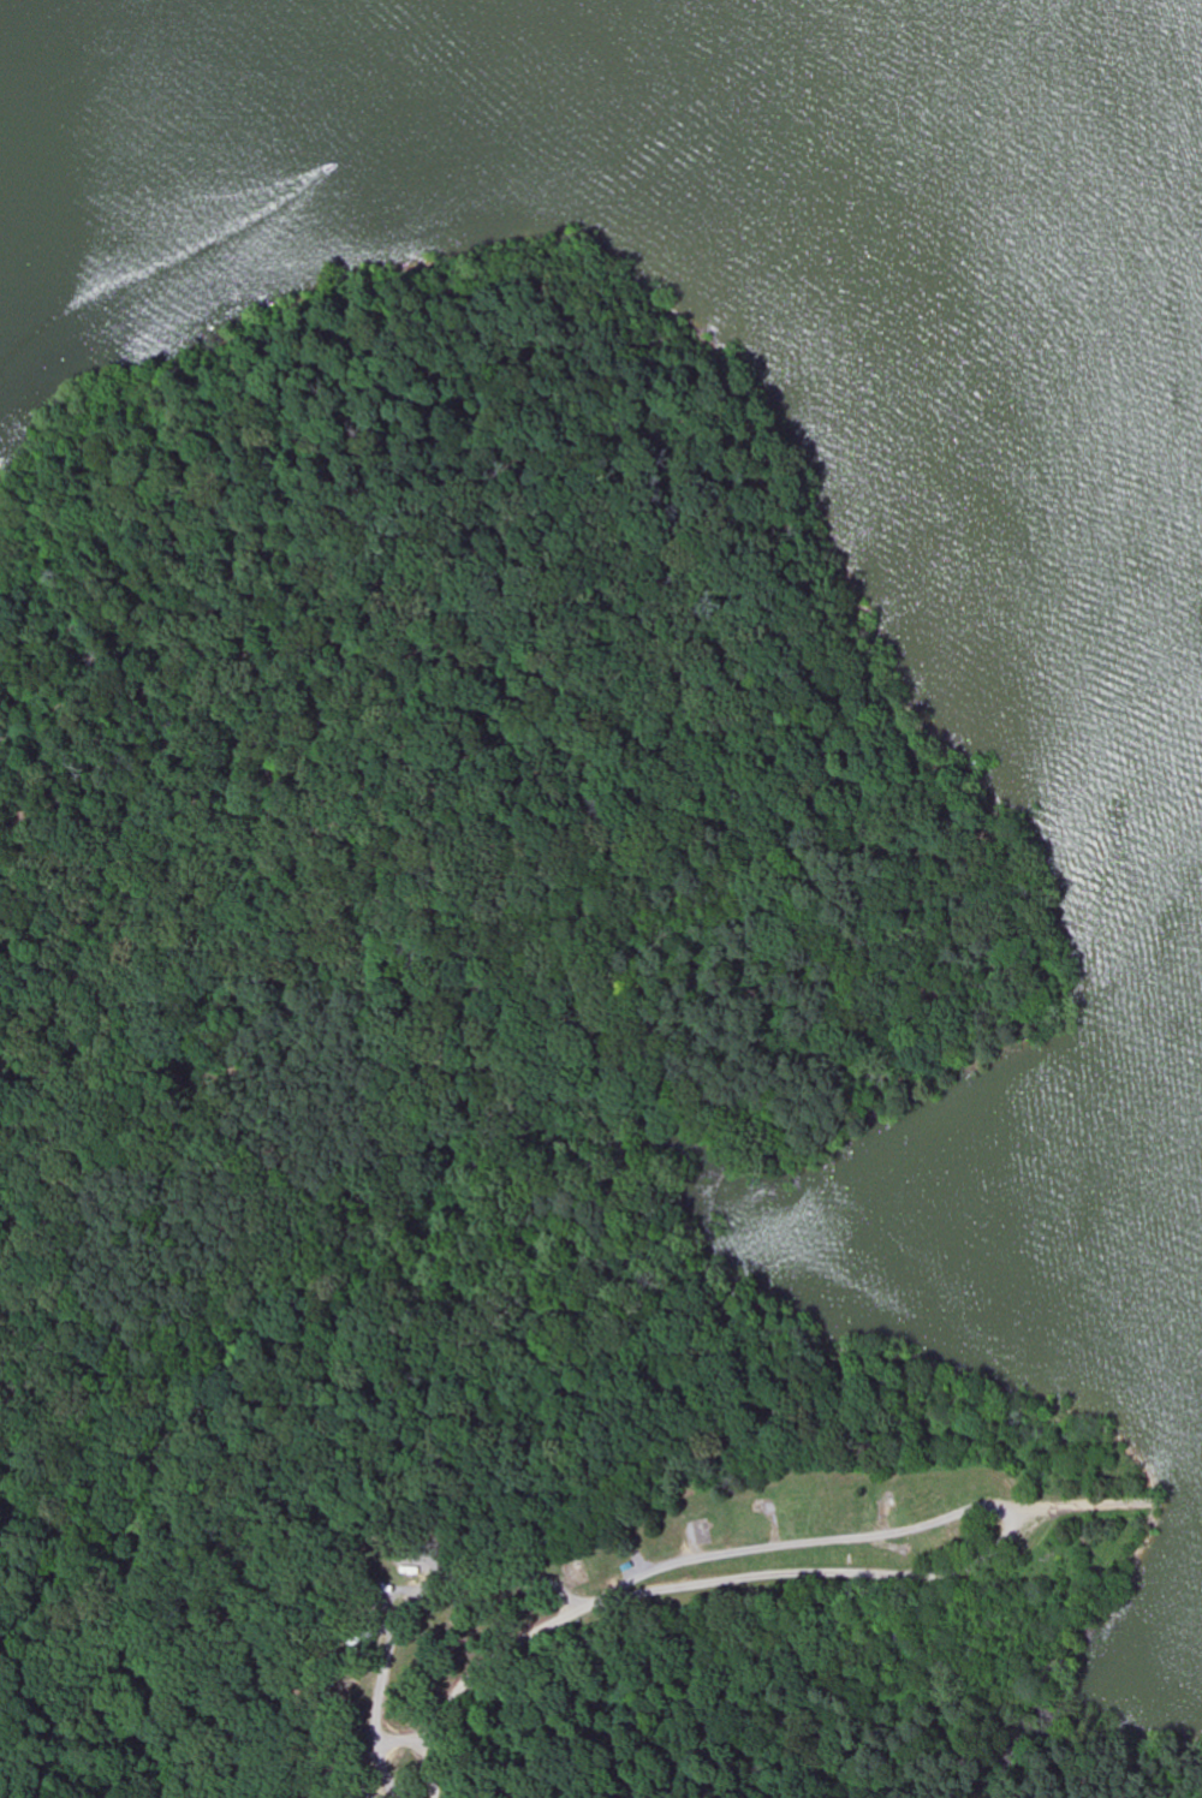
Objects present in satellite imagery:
road: (1103, 1505)
road: (825, 1542)
road: (837, 1573)
road: (391, 1598)
road: (482, 1663)
road: (403, 1738)

